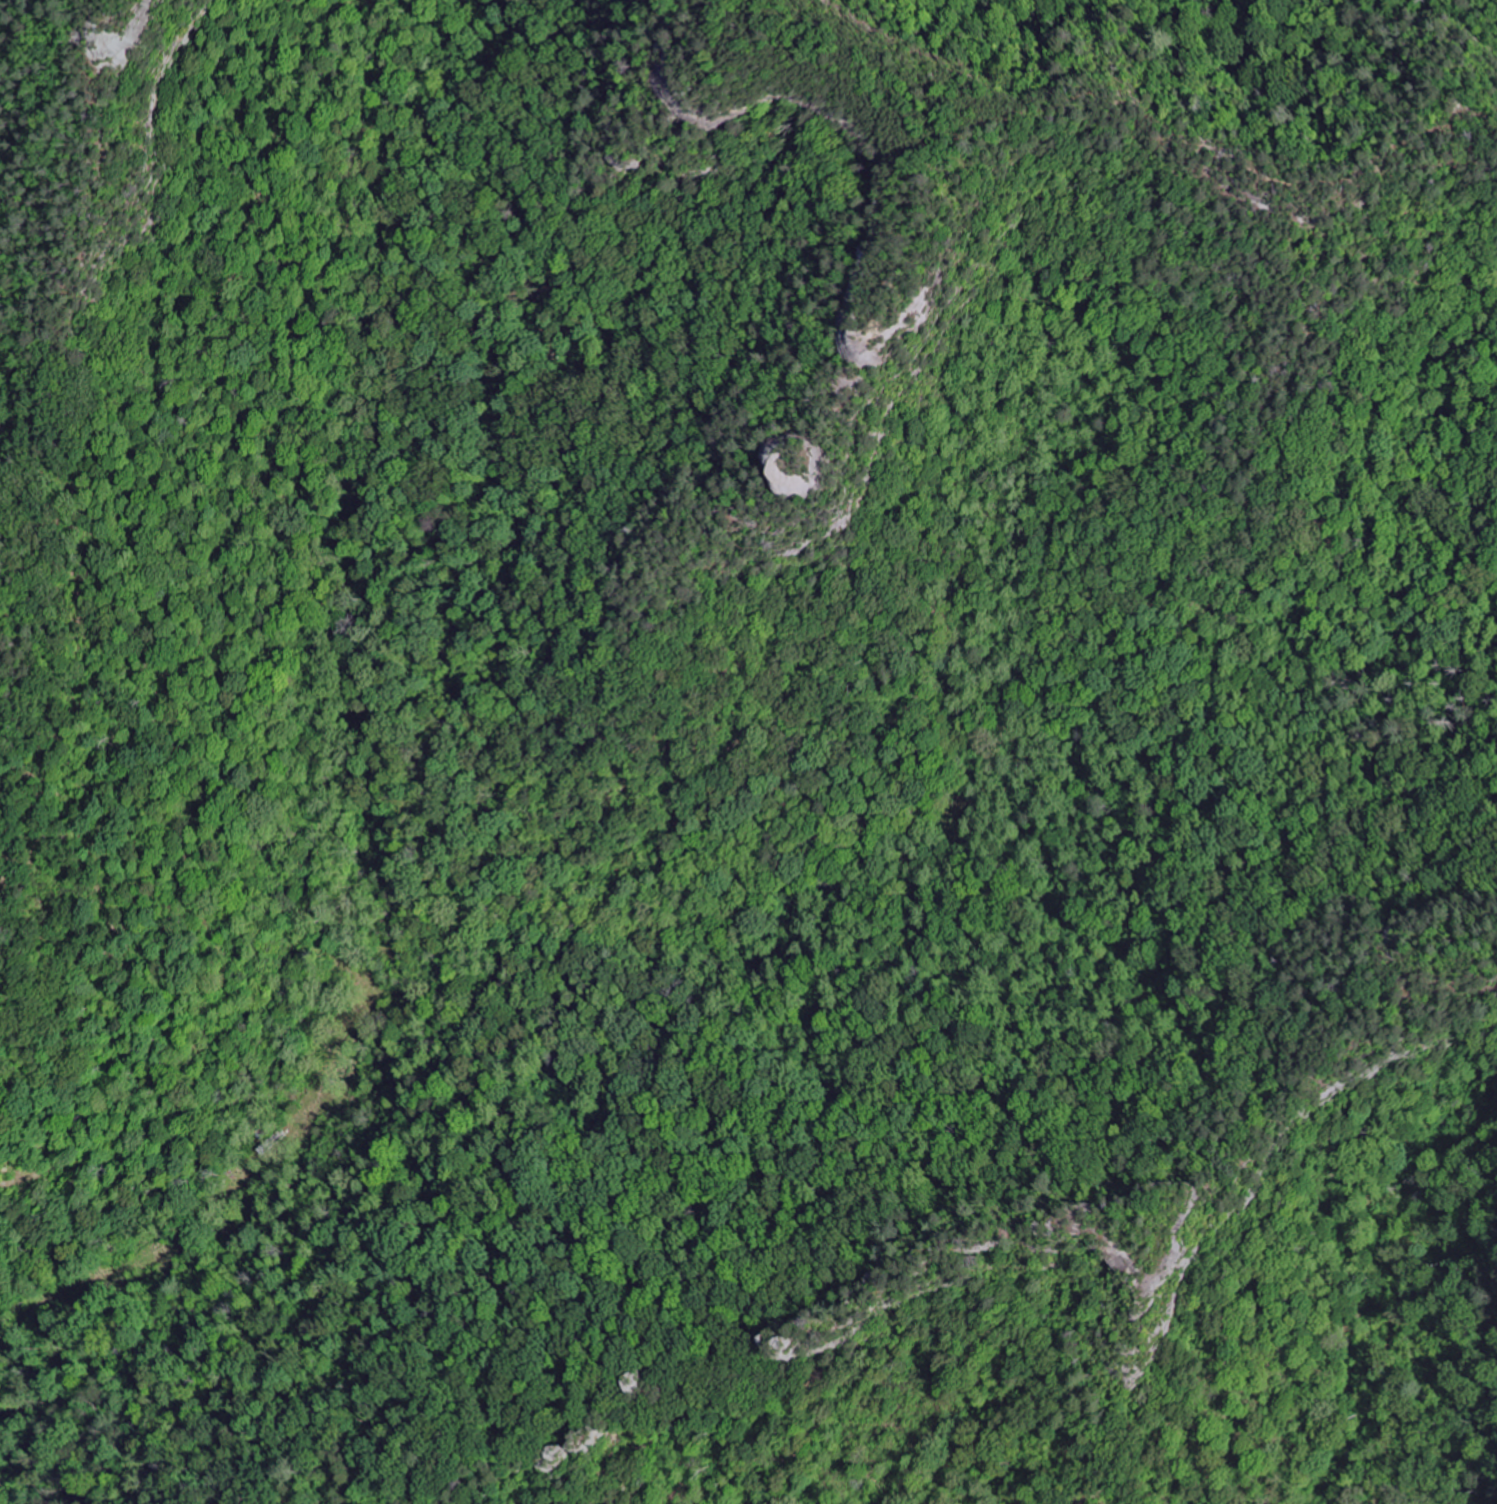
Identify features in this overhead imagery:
road: (116, 7)
road: (840, 67)
road: (1124, 109)

